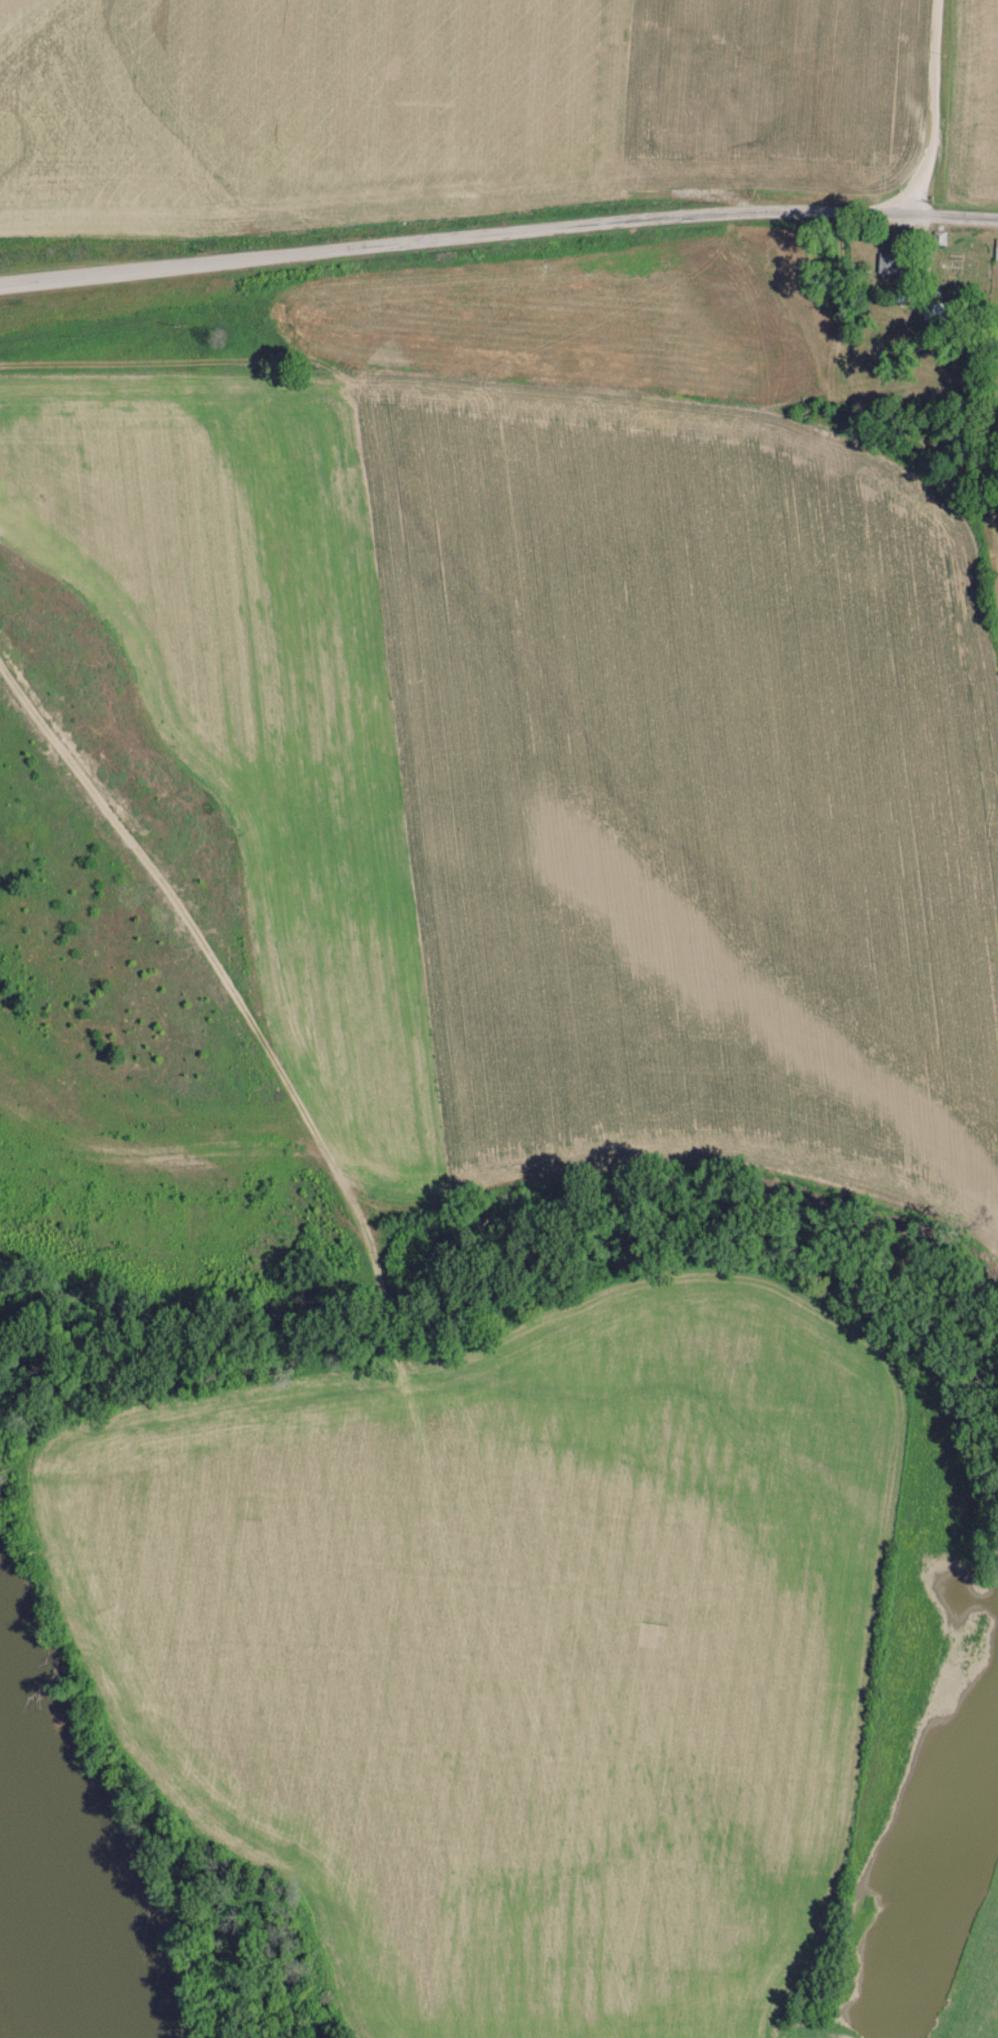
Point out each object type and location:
road: (935, 108)
road: (498, 232)
building: (939, 237)
building: (996, 248)
building: (889, 262)
building: (900, 295)
building: (938, 310)
road: (245, 1013)
river: (40, 1948)

